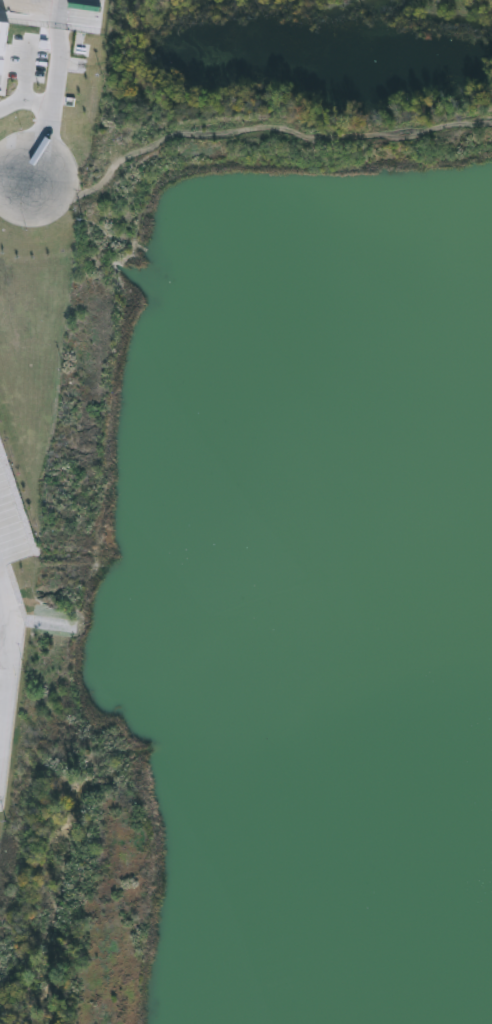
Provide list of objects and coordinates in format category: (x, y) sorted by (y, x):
road: (55, 50)
road: (47, 123)
road: (5, 182)
road: (7, 655)

